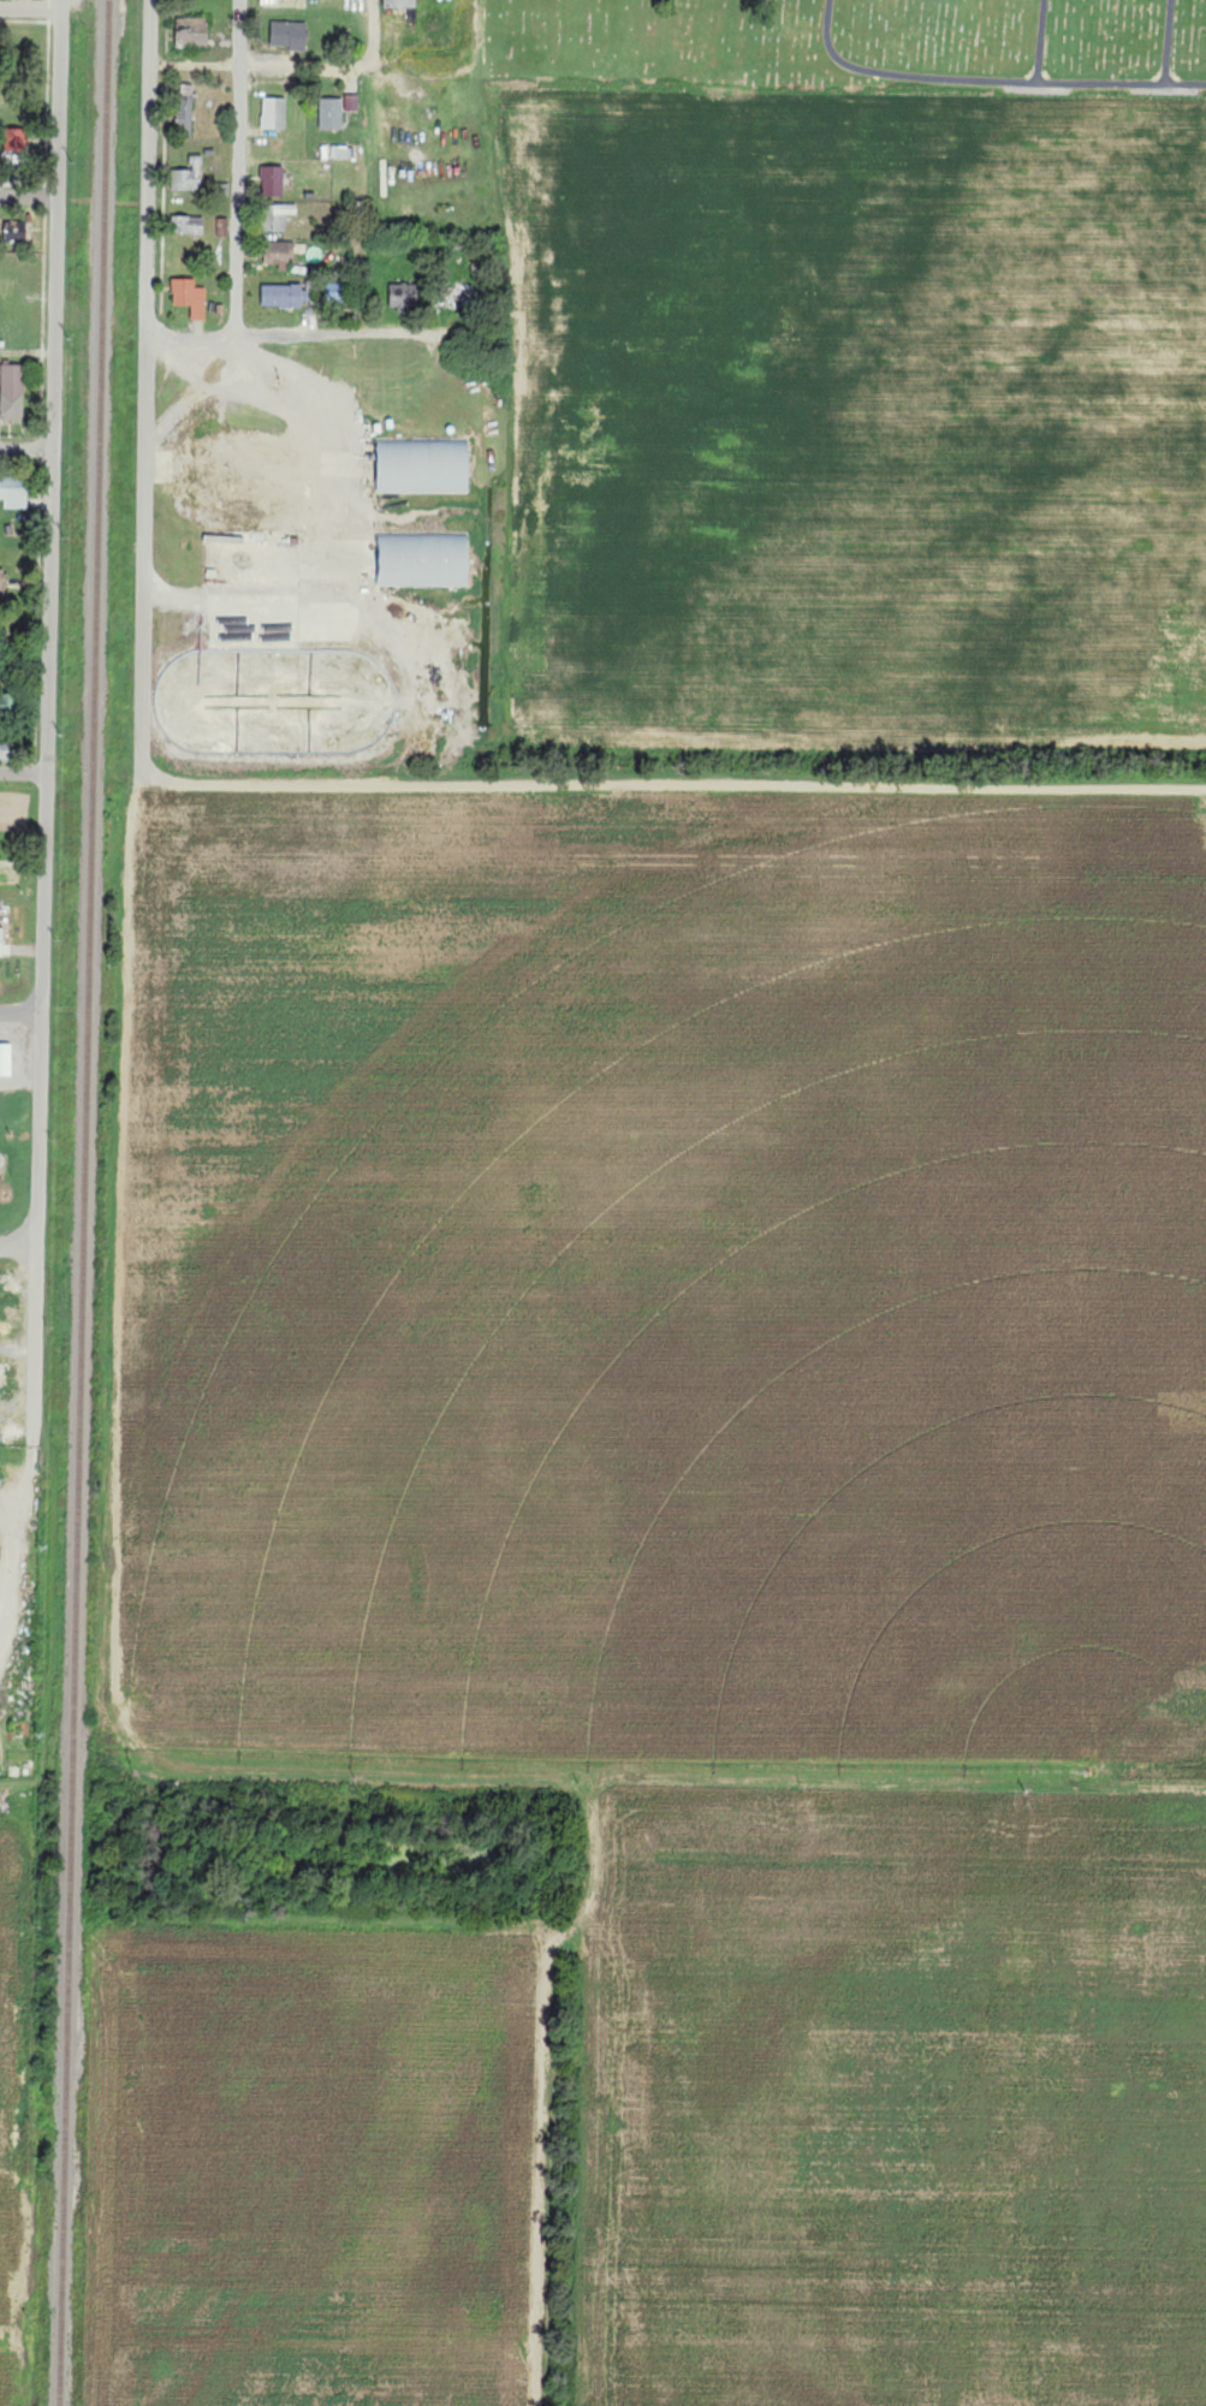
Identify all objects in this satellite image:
building: (399, 4)
road: (30, 8)
building: (192, 32)
road: (372, 34)
building: (289, 35)
park: (850, 41)
road: (1042, 41)
road: (1171, 41)
road: (313, 69)
road: (990, 79)
building: (351, 102)
building: (185, 109)
building: (274, 113)
building: (332, 113)
railway: (107, 121)
road: (150, 167)
road: (239, 167)
building: (188, 177)
building: (273, 180)
road: (28, 195)
building: (194, 225)
building: (16, 230)
building: (278, 255)
building: (284, 296)
building: (190, 297)
road: (293, 332)
road: (52, 386)
building: (11, 390)
road: (25, 445)
building: (423, 467)
building: (14, 493)
road: (145, 556)
building: (424, 559)
road: (343, 594)
road: (23, 772)
road: (675, 784)
building: (1, 940)
road: (20, 1014)
building: (6, 1059)
road: (37, 1199)
road: (18, 1244)
railway: (82, 1324)

